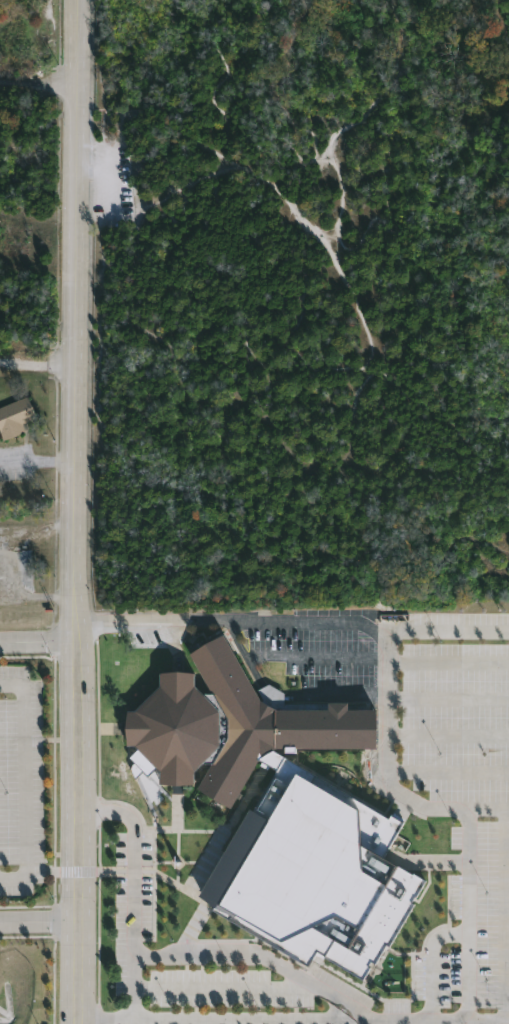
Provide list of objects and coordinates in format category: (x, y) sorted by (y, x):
road: (39, 84)
parking lot: (110, 183)
road: (355, 295)
park: (305, 303)
road: (38, 364)
building: (16, 418)
road: (71, 508)
road: (292, 622)
road: (38, 641)
road: (295, 658)
road: (447, 661)
road: (446, 699)
building: (233, 725)
road: (446, 733)
road: (446, 770)
road: (22, 786)
road: (446, 809)
road: (488, 809)
road: (128, 819)
building: (313, 879)
road: (508, 915)
road: (40, 922)
road: (133, 944)
road: (257, 957)
road: (225, 989)
road: (294, 1018)
road: (79, 1021)

